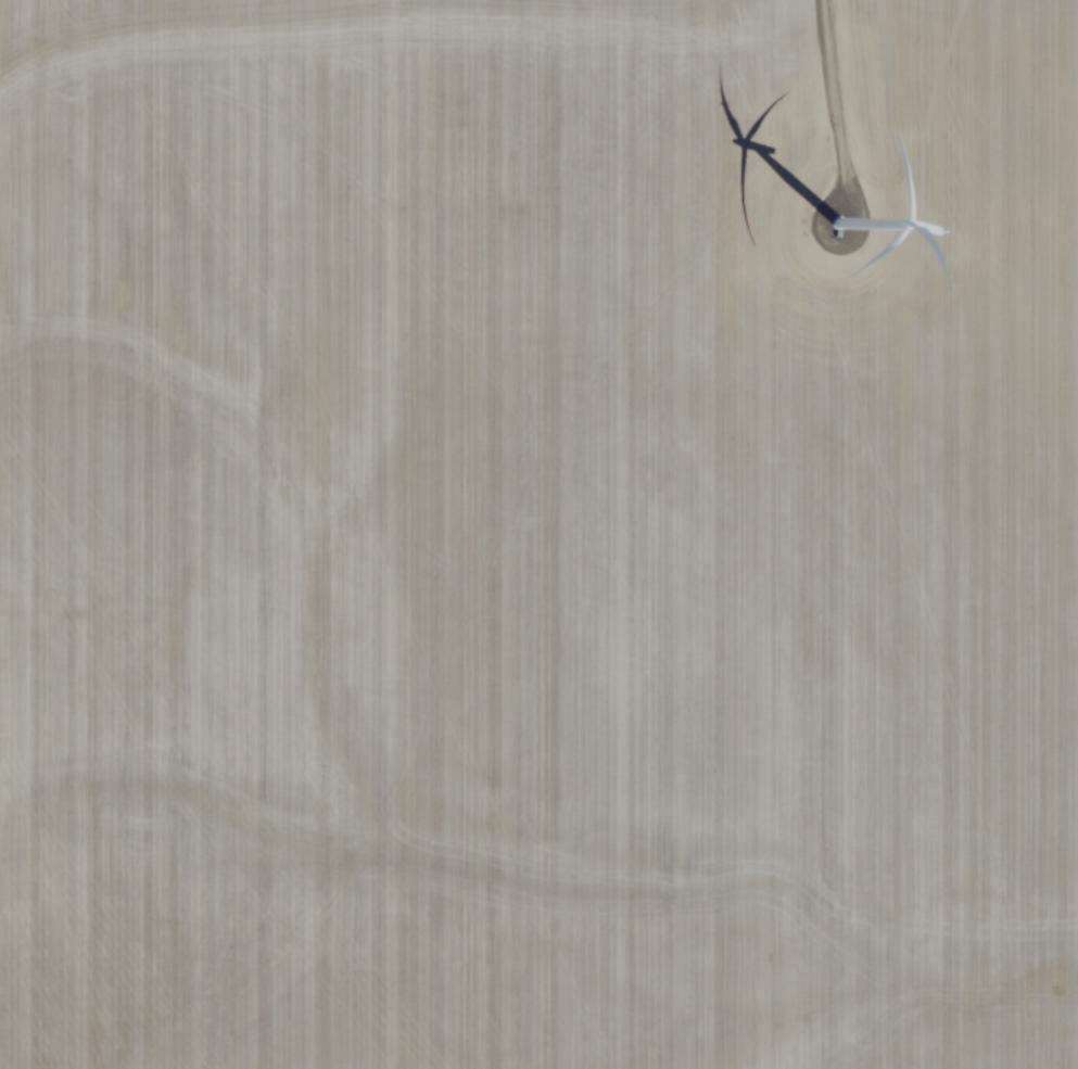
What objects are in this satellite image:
road: (828, 92)
wind turbine: (835, 226)

